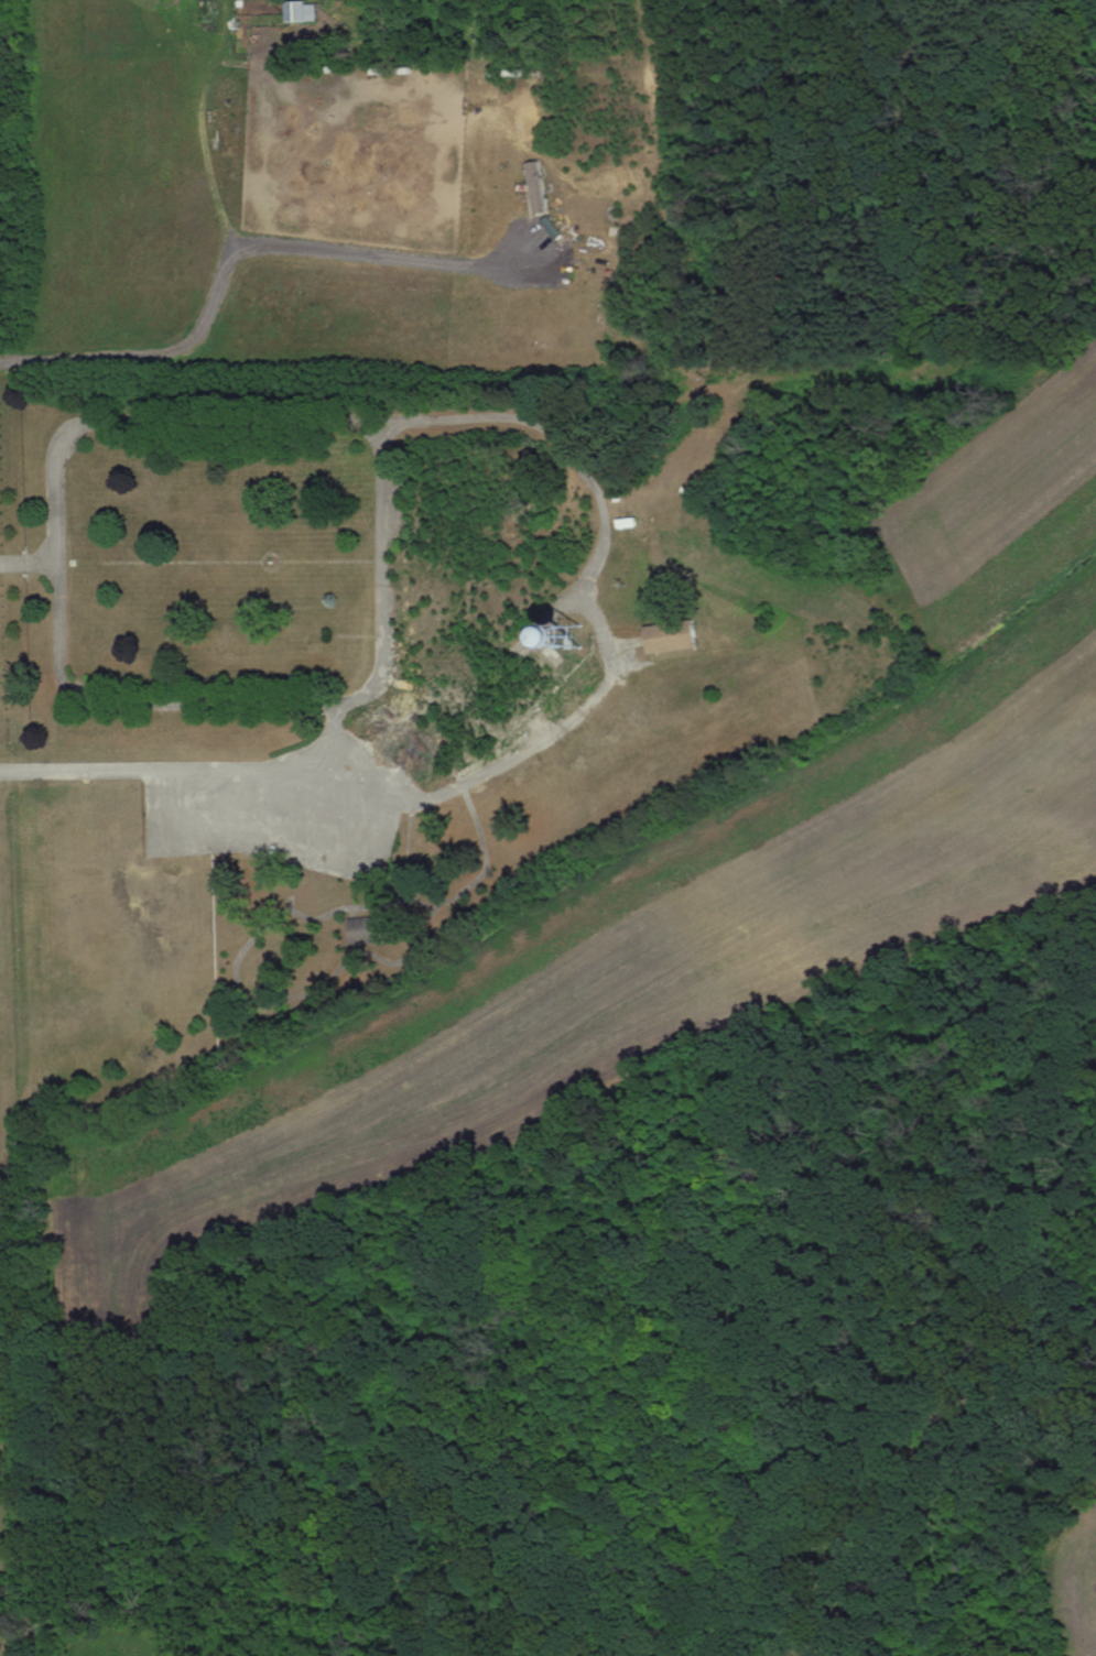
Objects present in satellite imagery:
building: (305, 11)
road: (161, 423)
road: (28, 564)
water tower: (577, 635)
road: (609, 685)
road: (352, 707)
road: (188, 770)

